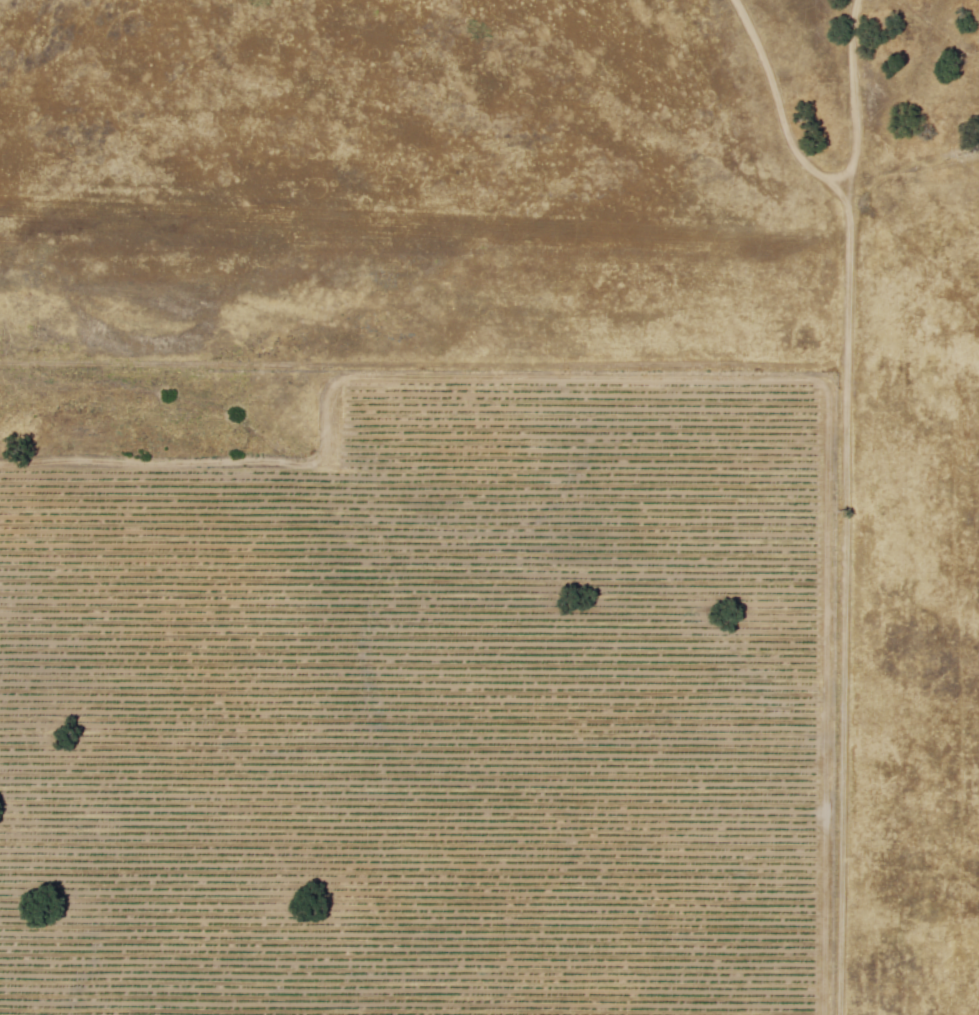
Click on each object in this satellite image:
road: (776, 96)
road: (846, 496)

